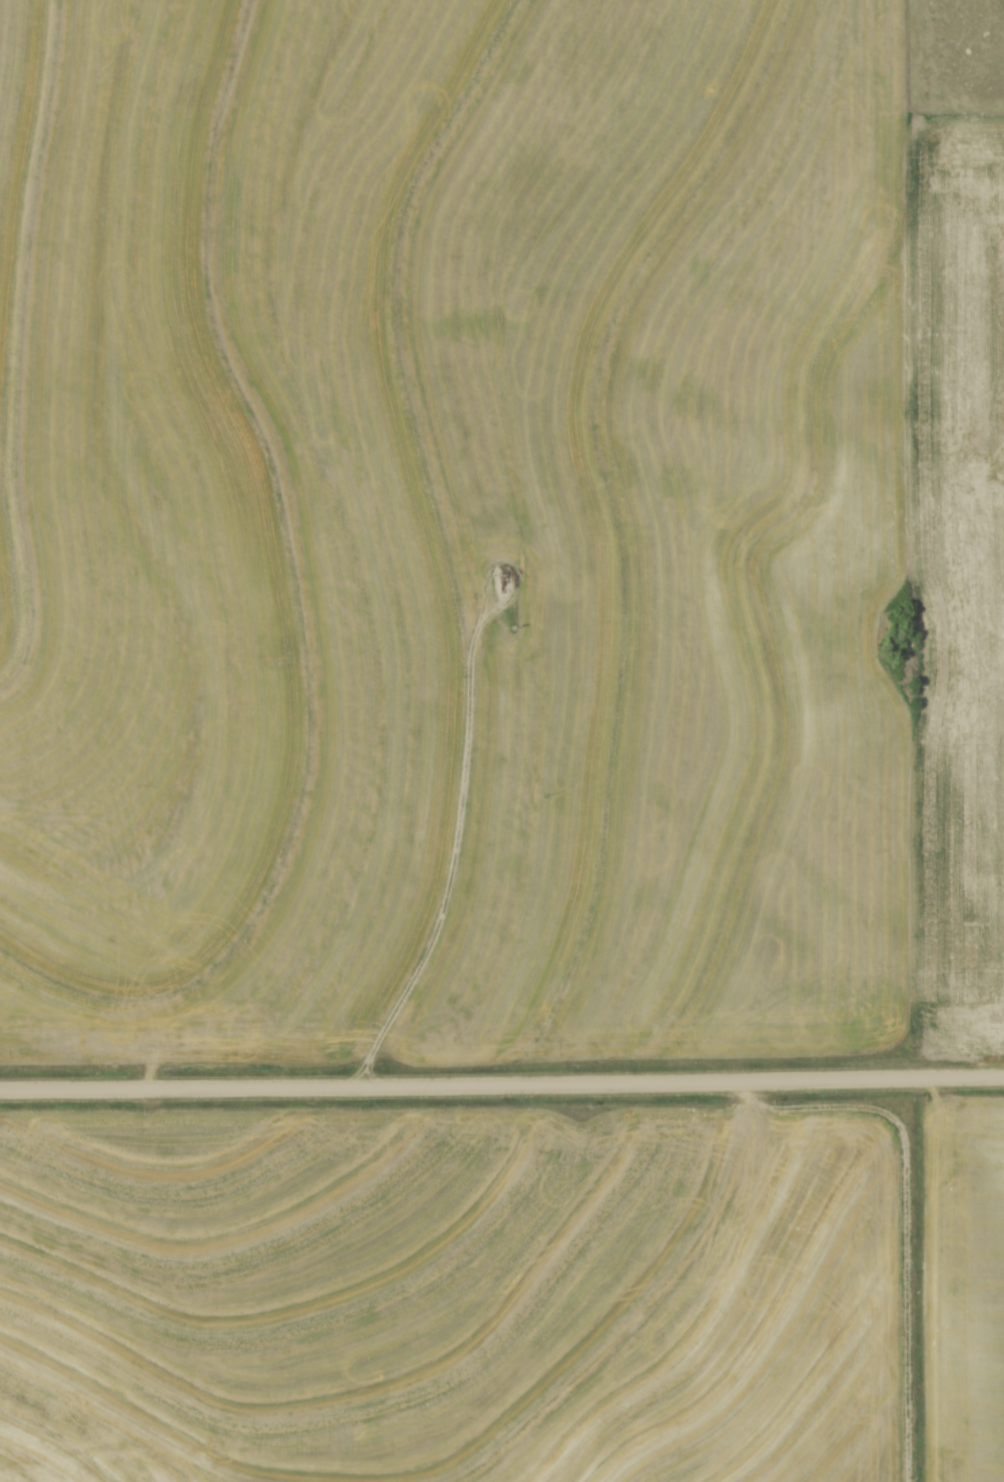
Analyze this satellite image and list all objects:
road: (502, 1083)
road: (943, 1277)

